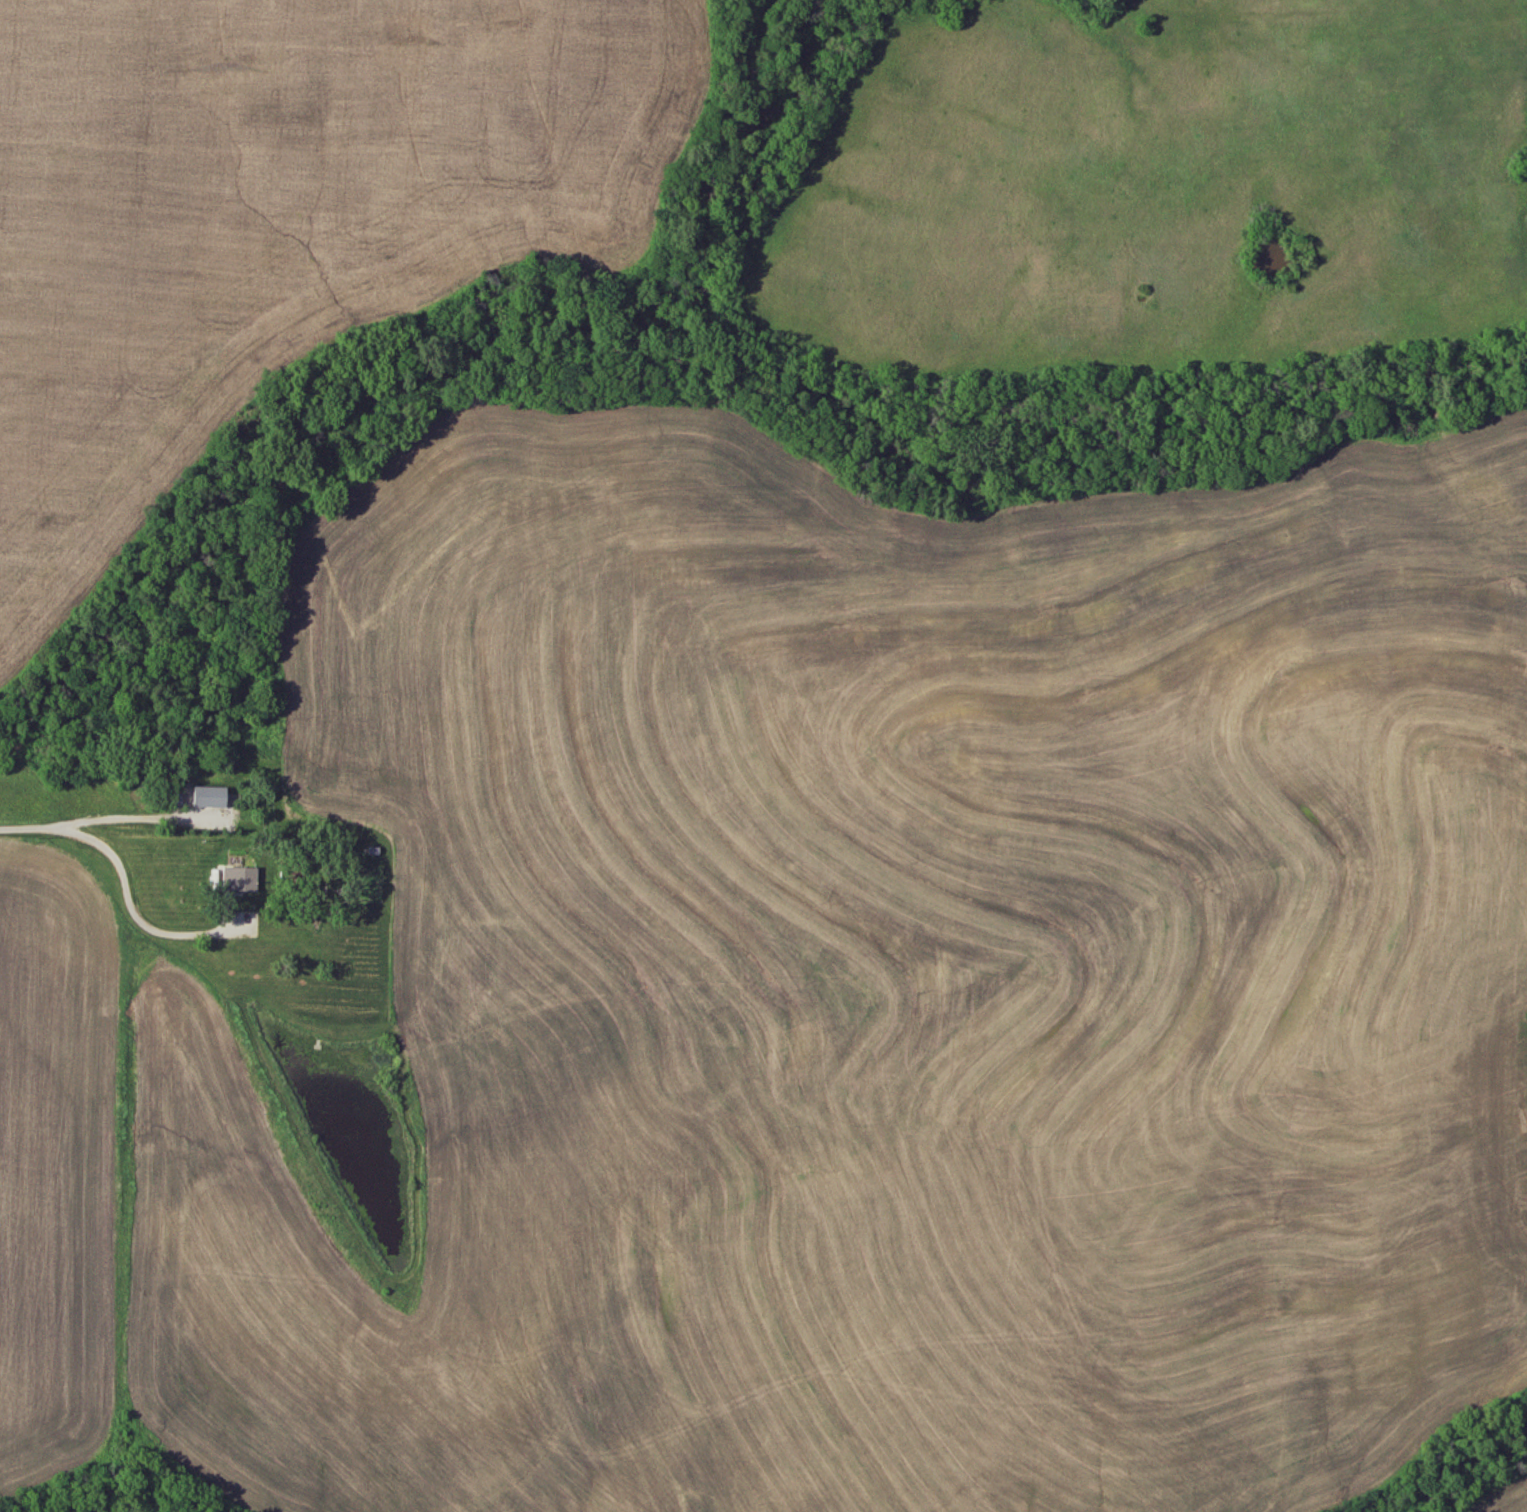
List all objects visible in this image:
building: (373, 847)
building: (239, 878)
road: (136, 903)

